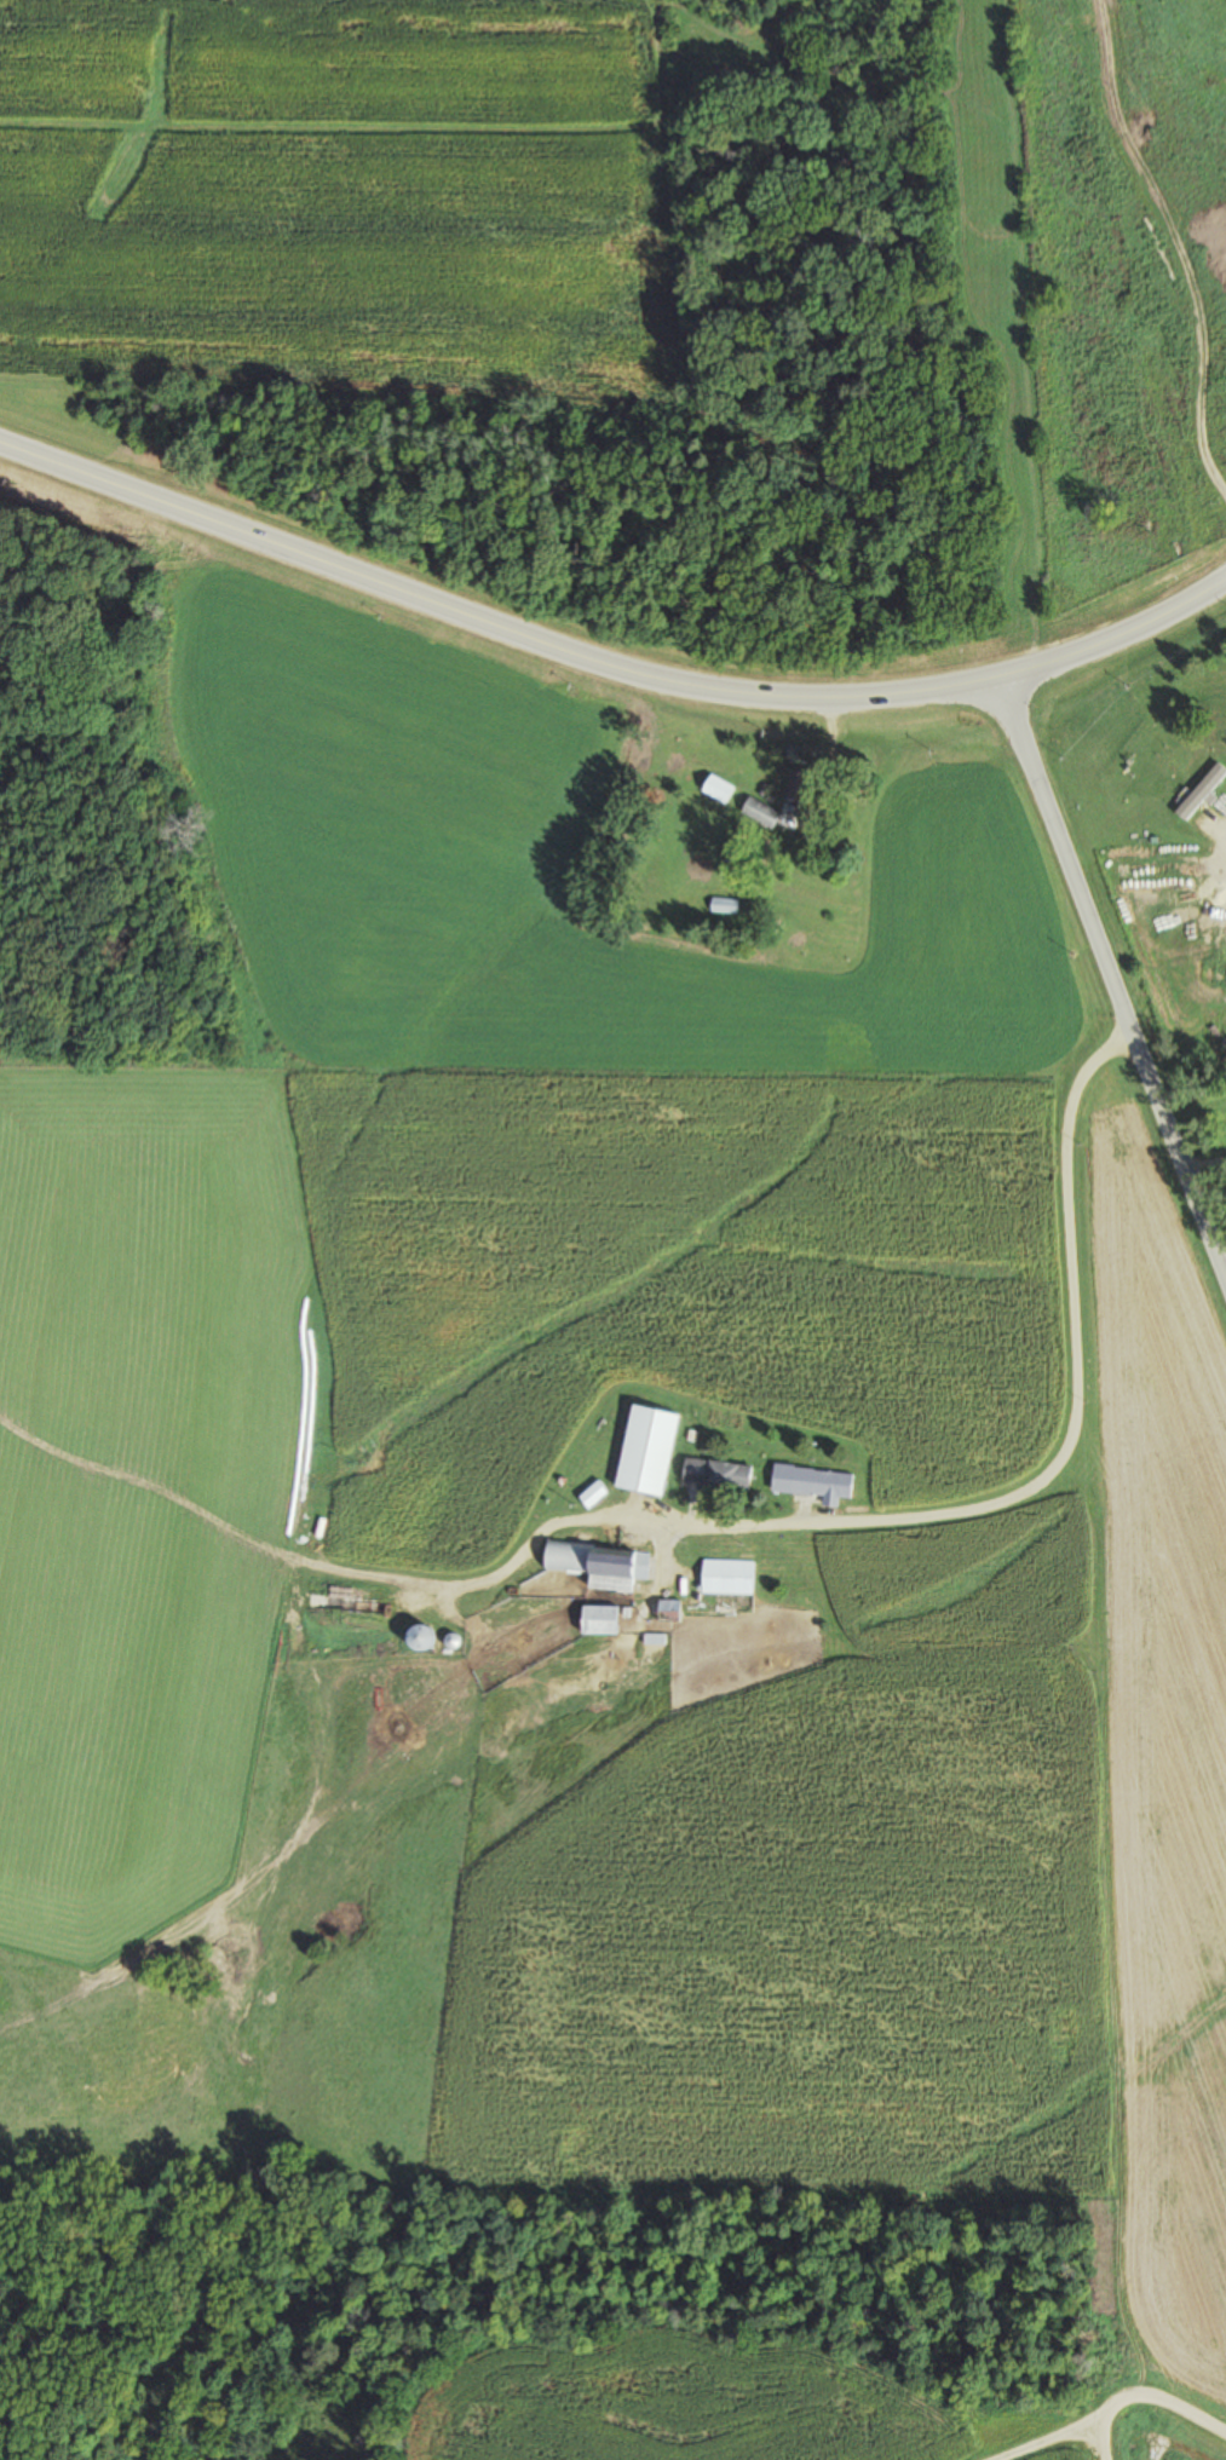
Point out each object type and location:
road: (608, 659)
building: (1213, 727)
building: (716, 788)
building: (759, 812)
building: (724, 904)
road: (1110, 983)
road: (1076, 1388)
building: (645, 1451)
building: (715, 1474)
building: (810, 1481)
building: (592, 1494)
road: (537, 1527)
building: (595, 1565)
building: (727, 1574)
building: (664, 1608)
building: (594, 1619)
building: (414, 1638)
road: (1132, 2386)
road: (1023, 2436)

